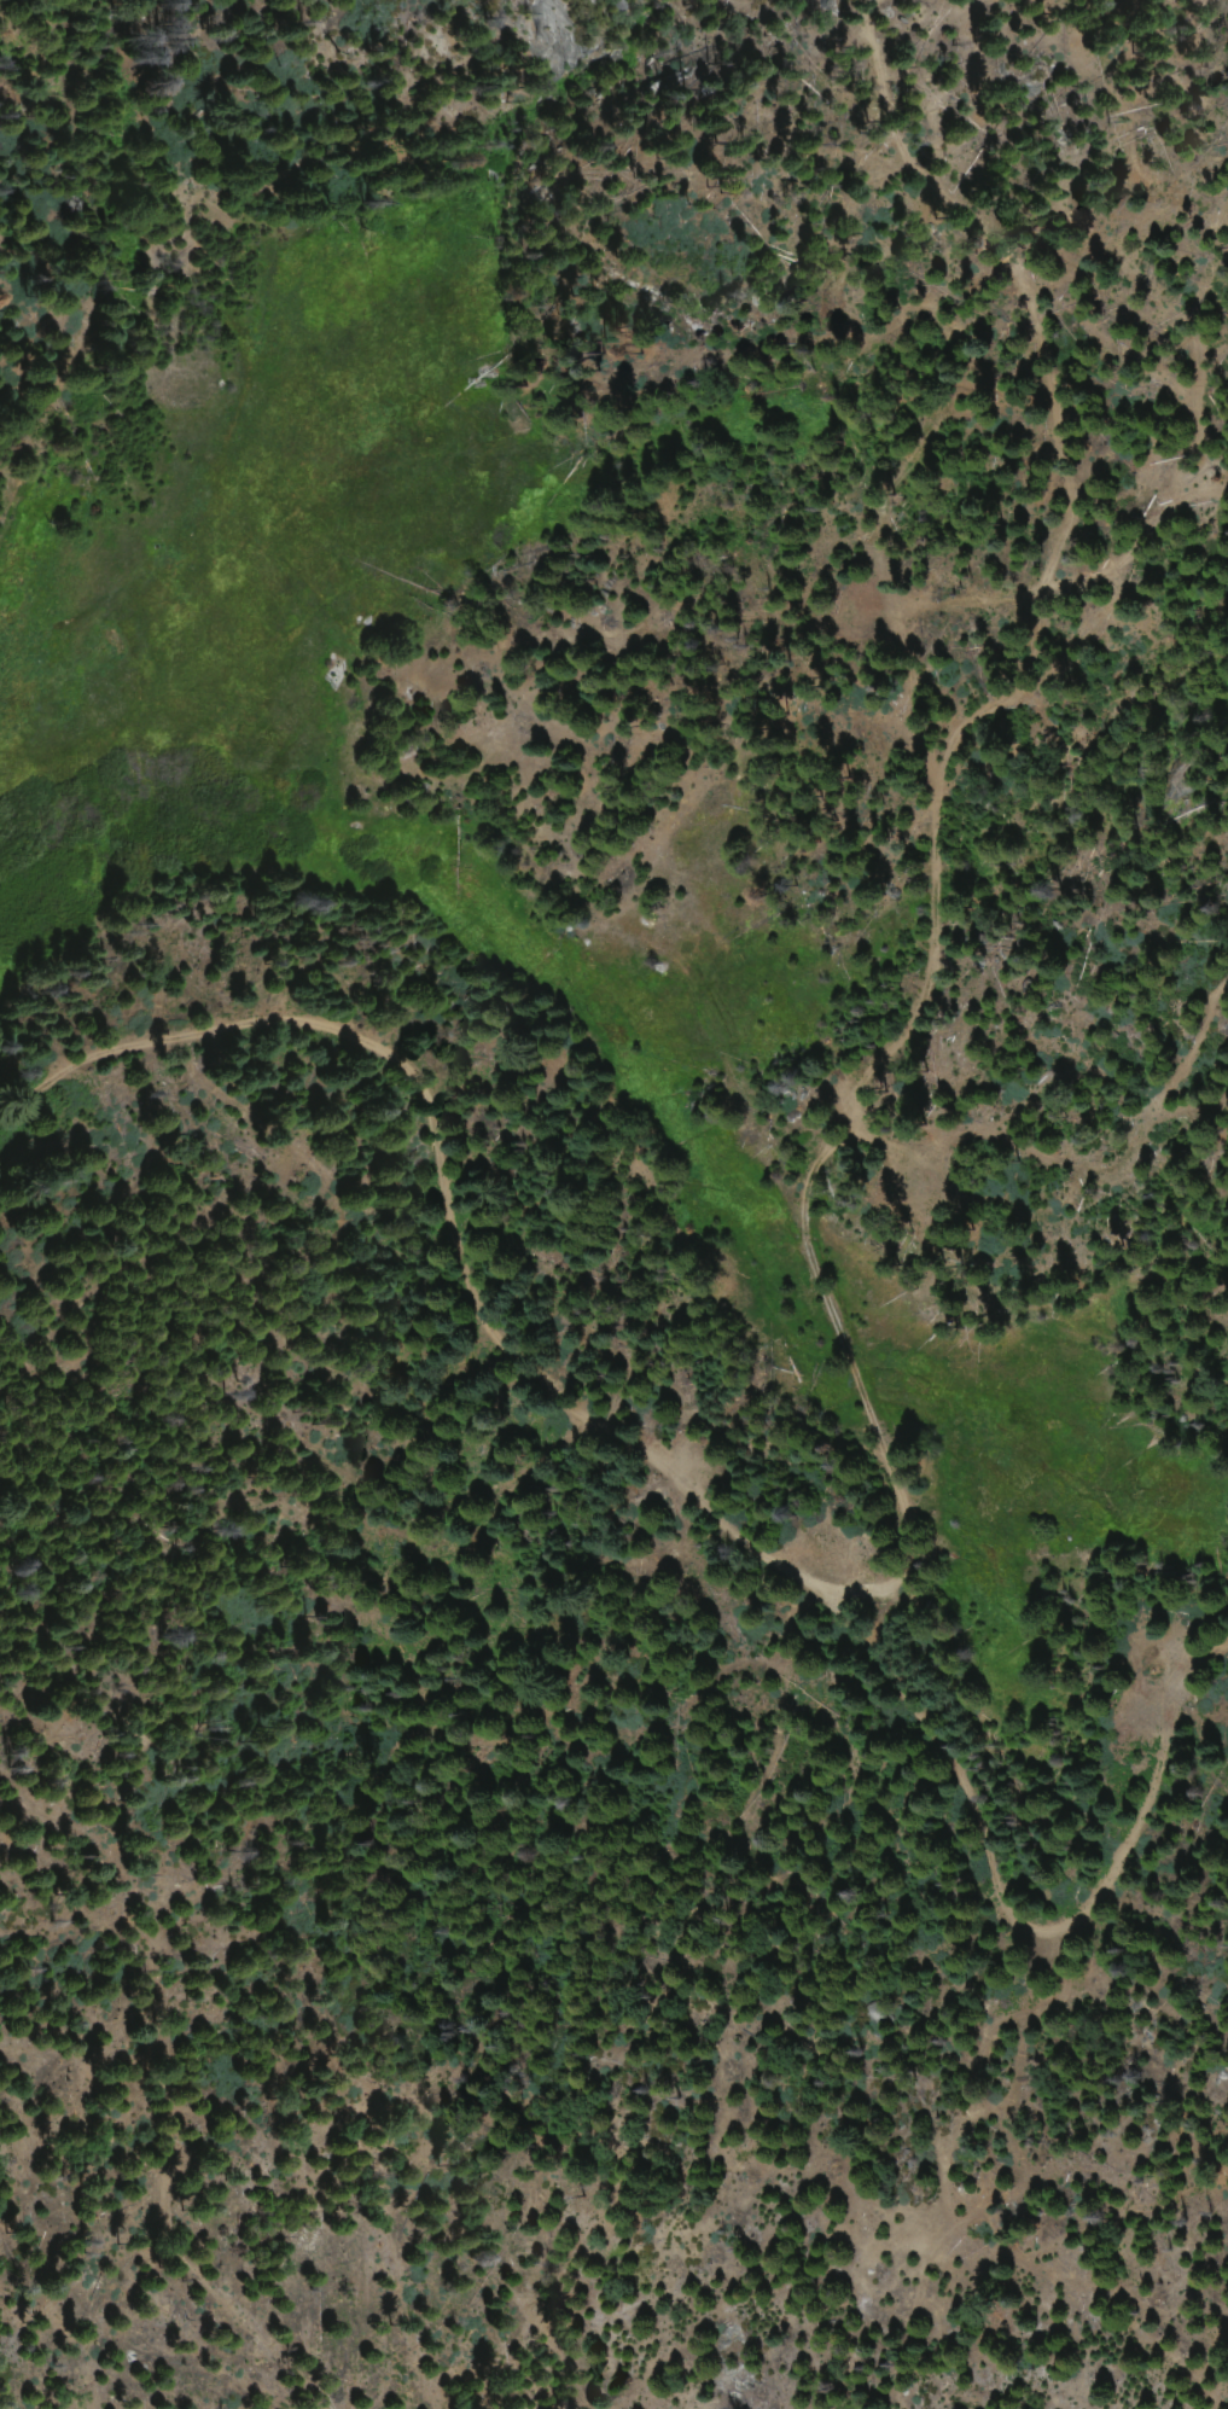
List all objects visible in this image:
road: (611, 1432)
road: (1001, 1846)

